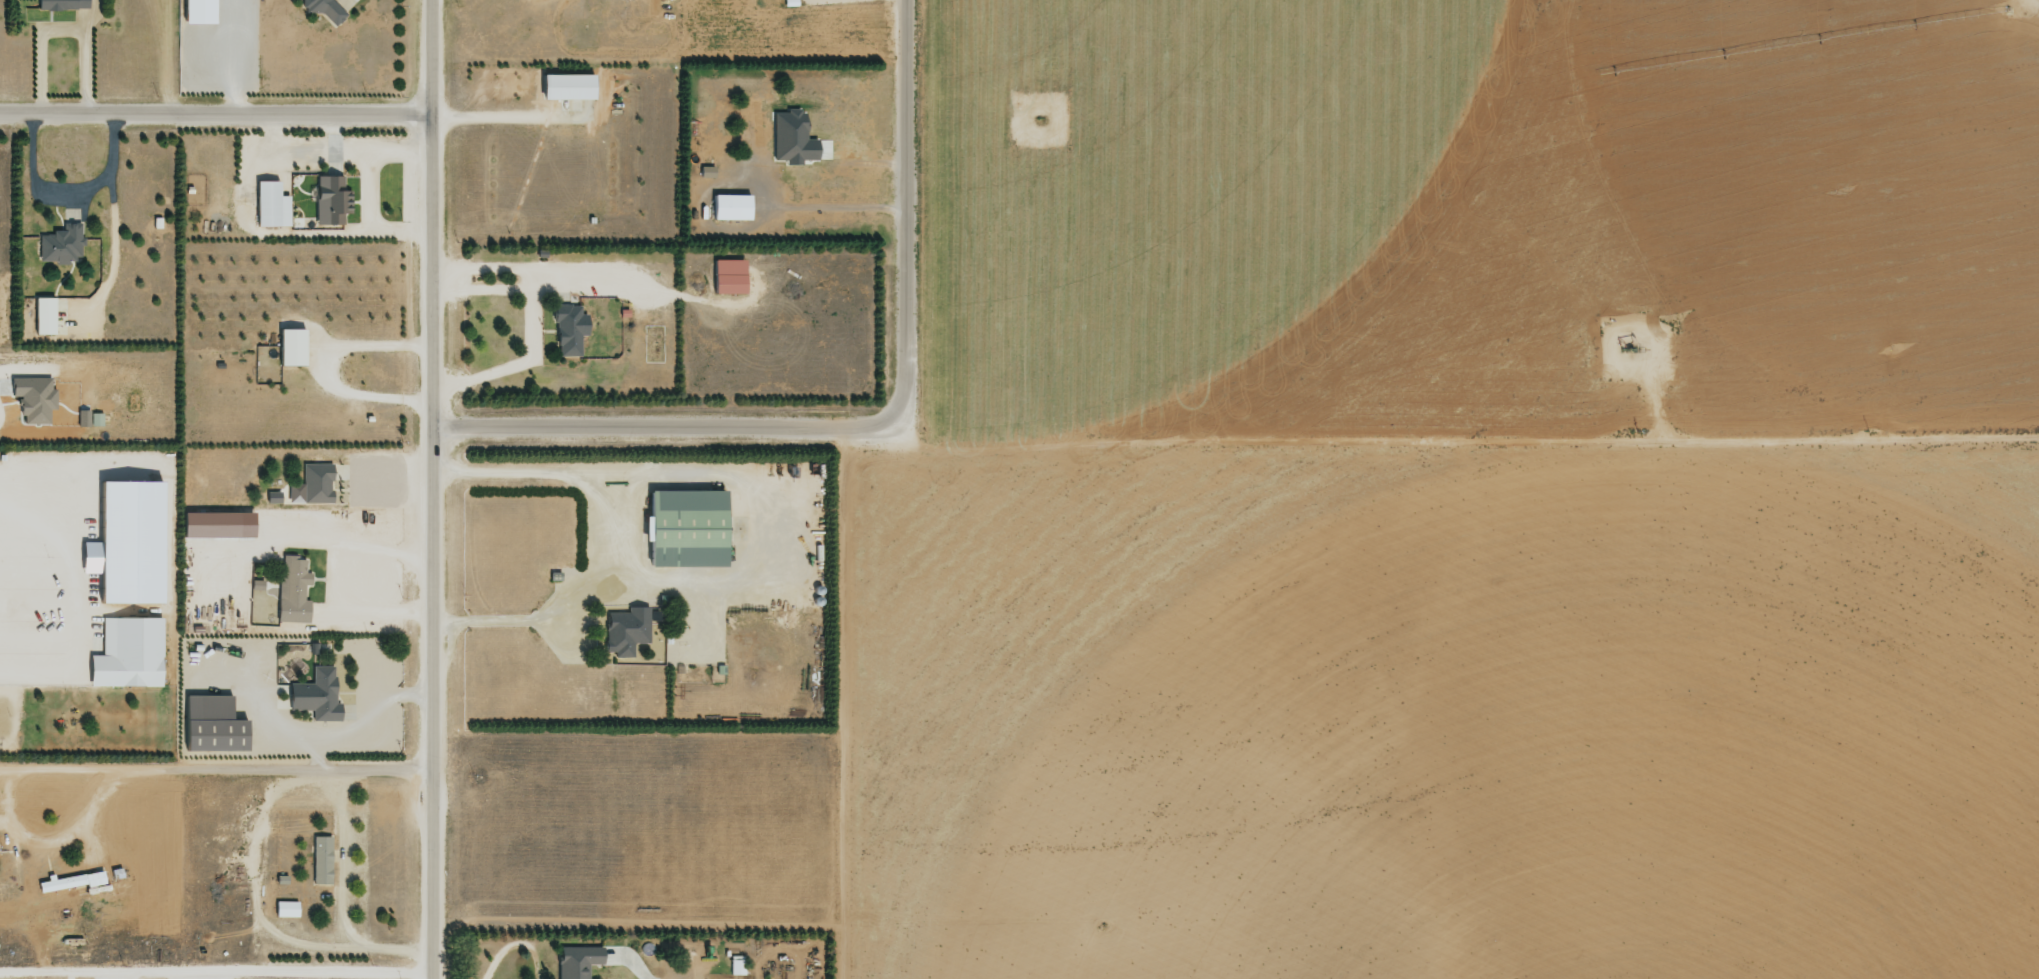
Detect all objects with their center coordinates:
building: (788, 2)
building: (61, 4)
building: (323, 9)
building: (197, 11)
building: (565, 86)
road: (213, 122)
building: (791, 137)
road: (66, 191)
building: (330, 200)
building: (270, 204)
building: (729, 207)
road: (904, 216)
building: (60, 244)
building: (727, 276)
building: (42, 315)
building: (567, 329)
building: (289, 346)
building: (32, 399)
building: (88, 419)
road: (665, 431)
road: (1471, 433)
building: (311, 485)
road: (173, 487)
road: (428, 489)
road: (85, 511)
building: (216, 524)
building: (684, 528)
building: (124, 543)
road: (86, 566)
road: (332, 582)
building: (293, 593)
road: (86, 628)
building: (625, 630)
building: (124, 656)
road: (86, 691)
building: (315, 695)
park: (3, 722)
road: (172, 724)
building: (210, 725)
road: (86, 756)
road: (213, 768)
building: (320, 859)
building: (70, 881)
road: (343, 899)
building: (285, 908)
building: (576, 961)
building: (736, 965)

